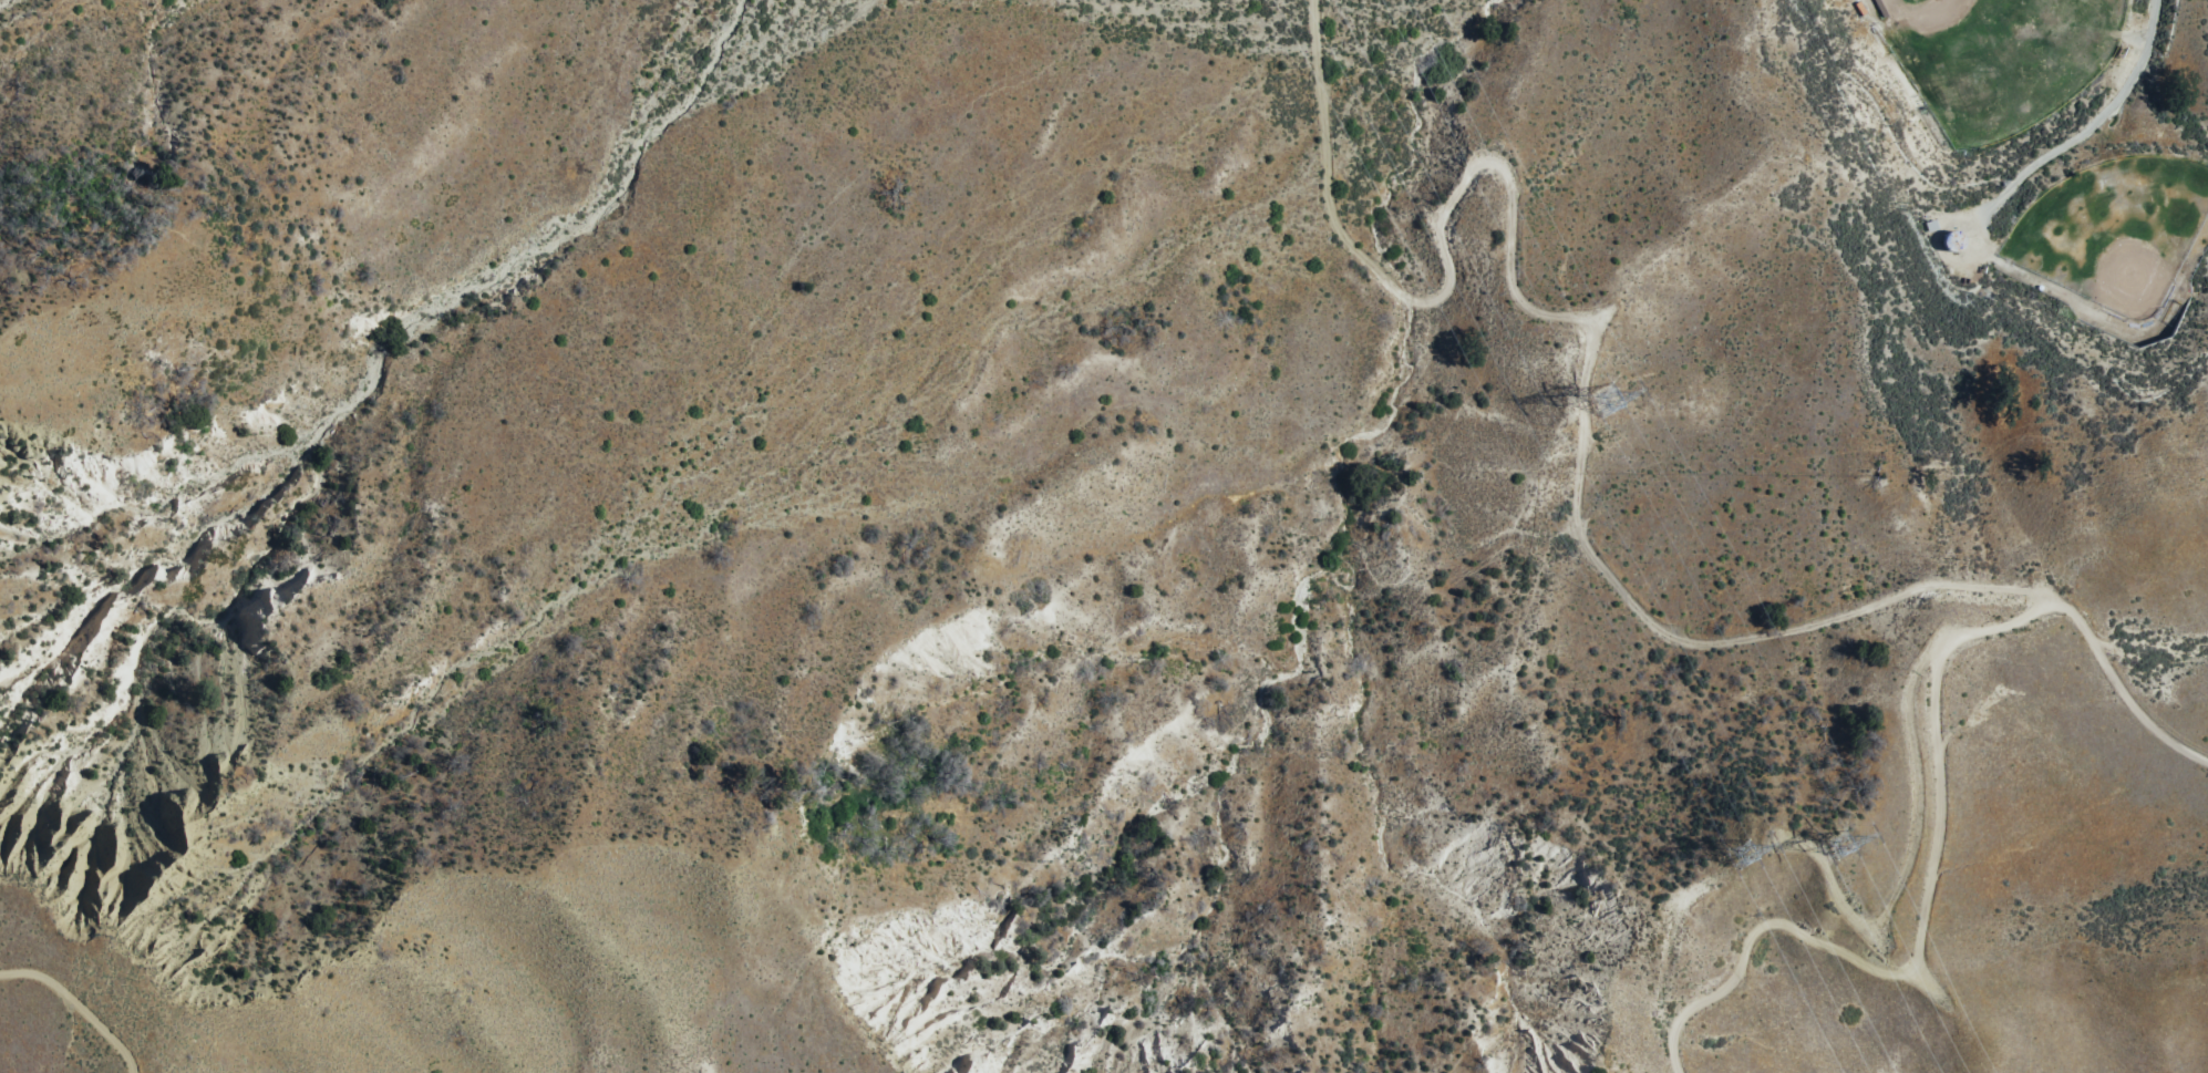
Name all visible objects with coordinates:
park: (2002, 58)
road: (2092, 131)
road: (1468, 209)
power tower: (1598, 396)
road: (1774, 638)
road: (2134, 666)
power tower: (1832, 854)
power tower: (1732, 858)
road: (1930, 917)
road: (76, 1007)

